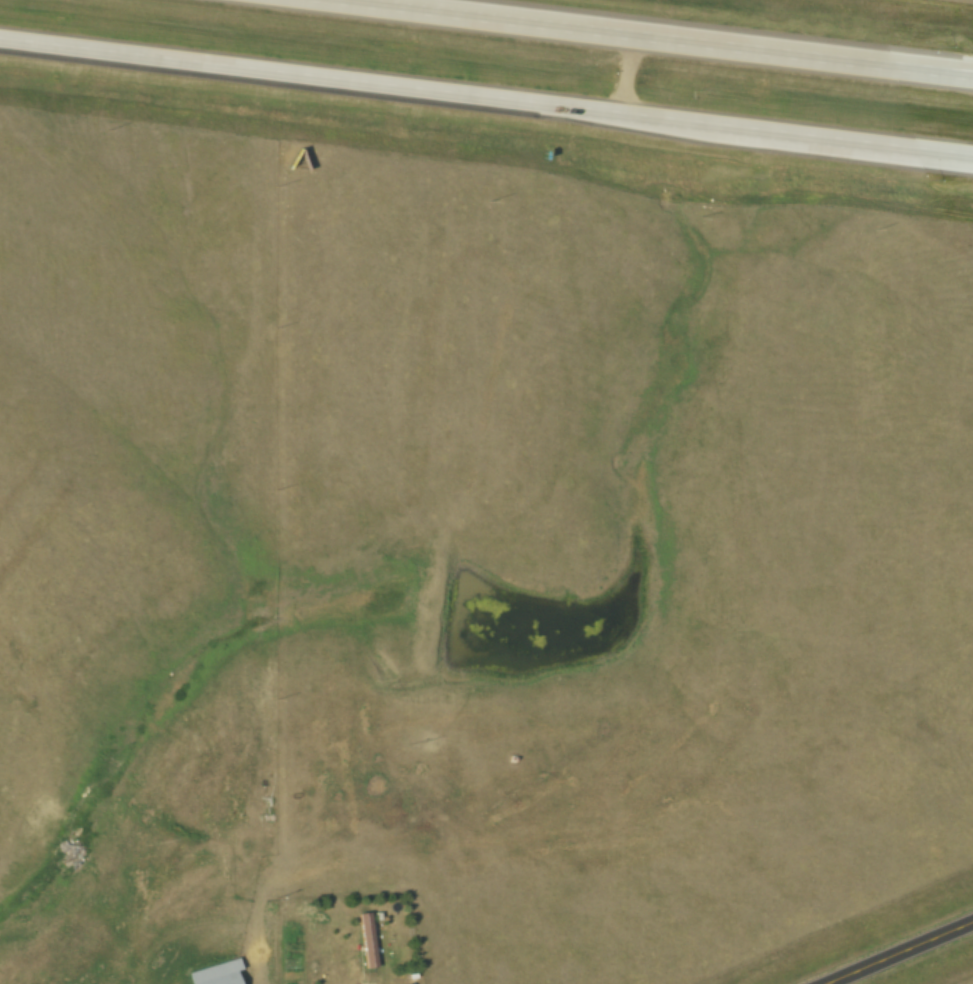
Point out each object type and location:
road: (644, 38)
road: (873, 62)
road: (486, 96)
road: (907, 150)
building: (367, 940)
road: (900, 953)
road: (250, 962)
building: (219, 979)

